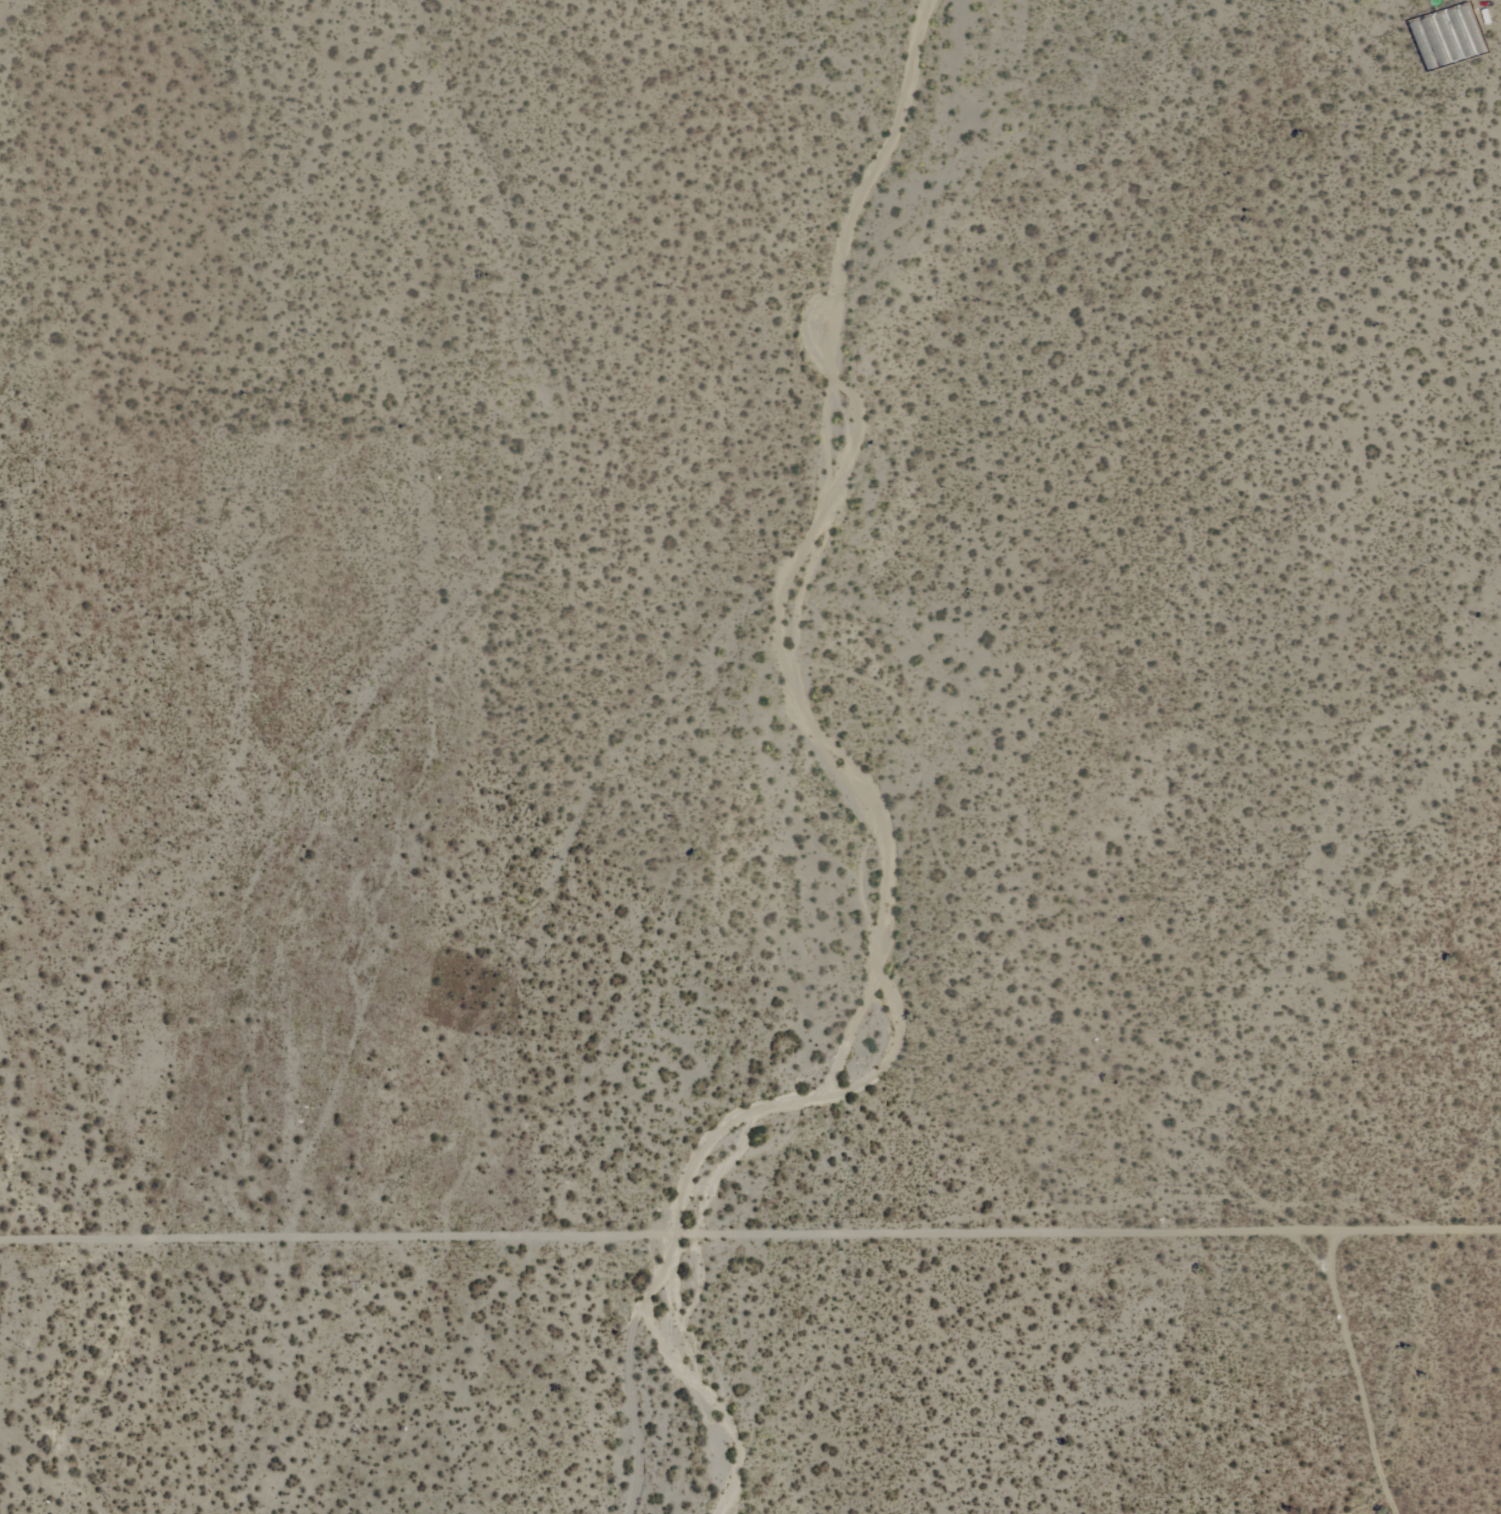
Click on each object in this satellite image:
road: (750, 1239)

